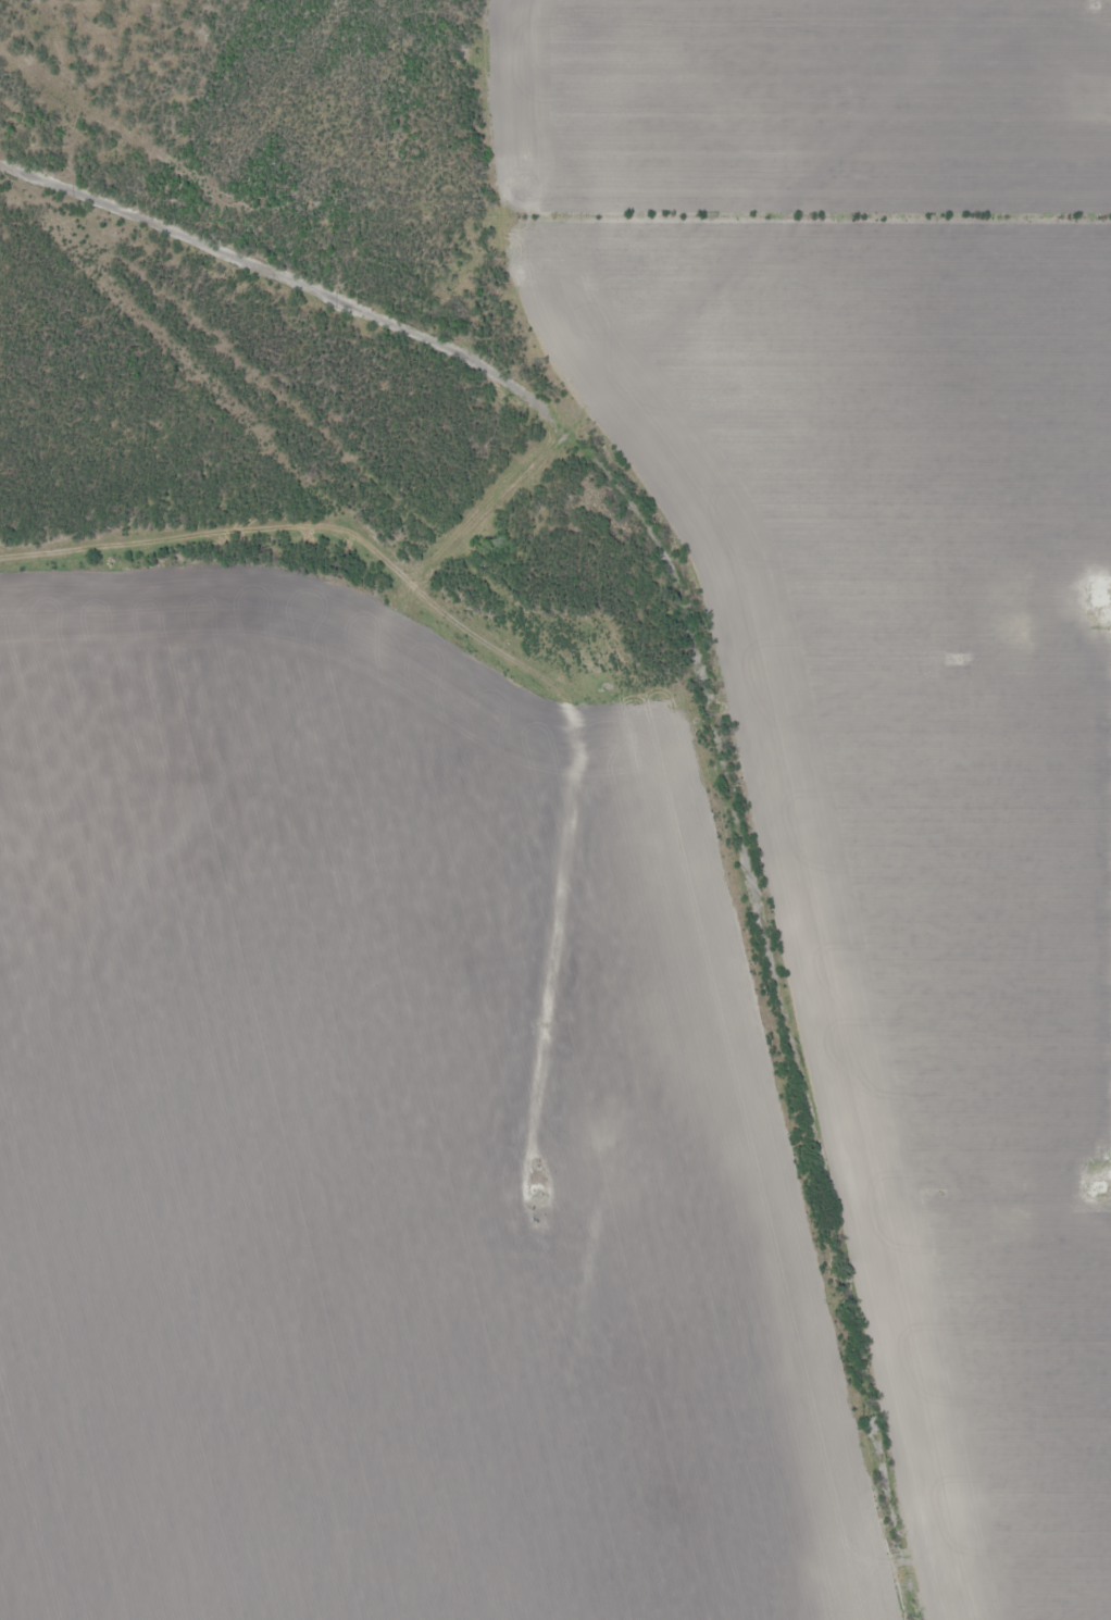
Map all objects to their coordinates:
road: (484, 623)
road: (1104, 774)

